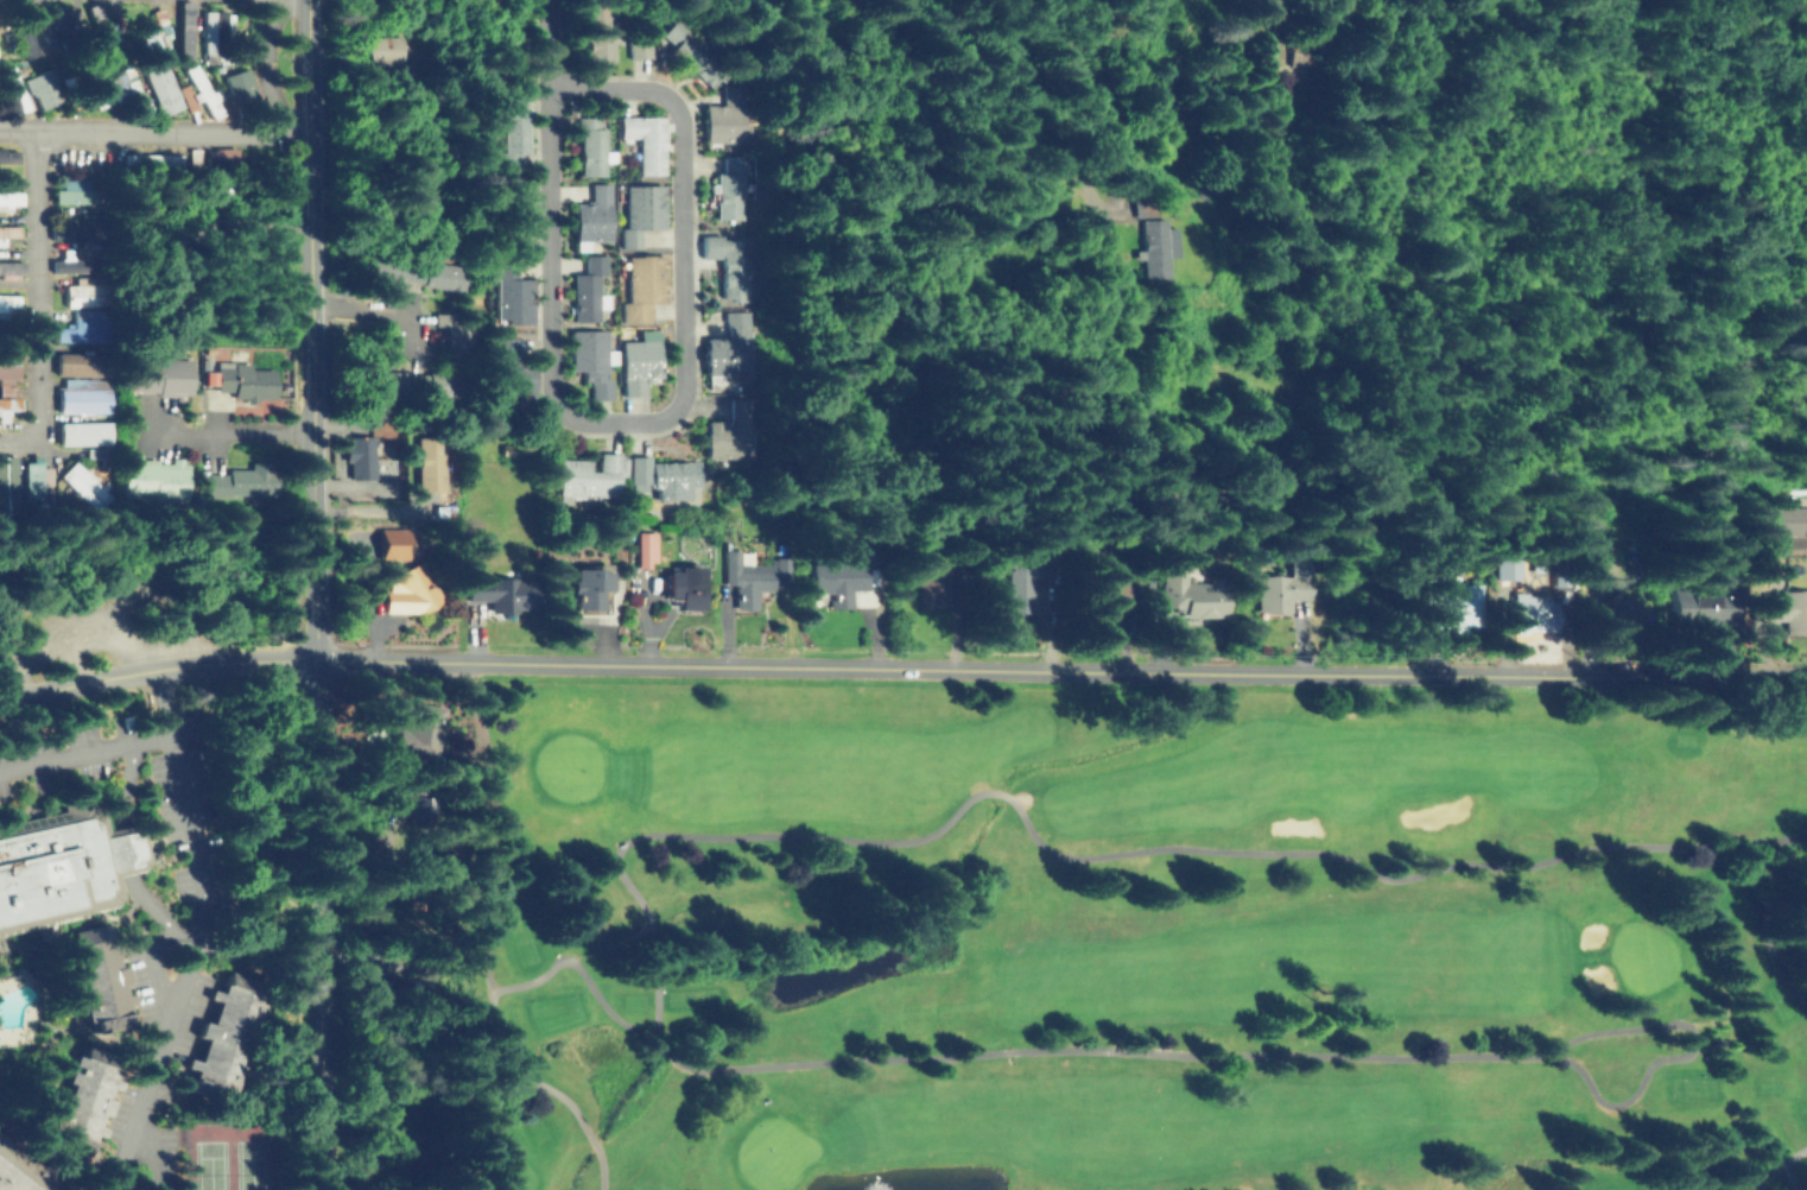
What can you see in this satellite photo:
building: (103, 27)
building: (214, 27)
building: (34, 32)
building: (146, 33)
building: (592, 34)
road: (549, 44)
building: (379, 46)
building: (636, 46)
building: (1286, 48)
building: (1317, 52)
building: (689, 53)
road: (265, 64)
building: (121, 86)
building: (39, 87)
building: (158, 87)
building: (240, 87)
building: (205, 94)
building: (185, 95)
building: (90, 99)
building: (725, 113)
road: (152, 128)
building: (512, 129)
road: (1079, 133)
building: (645, 140)
building: (588, 143)
building: (6, 153)
building: (226, 159)
building: (728, 183)
building: (68, 188)
building: (8, 192)
building: (511, 208)
building: (641, 210)
building: (590, 215)
building: (78, 224)
building: (9, 227)
building: (1150, 242)
building: (76, 262)
building: (727, 262)
building: (9, 266)
building: (411, 270)
building: (640, 285)
building: (587, 287)
building: (85, 292)
building: (508, 292)
road: (37, 296)
building: (7, 297)
building: (438, 316)
building: (82, 324)
road: (310, 329)
building: (459, 343)
building: (728, 347)
building: (590, 359)
building: (641, 362)
building: (8, 365)
building: (71, 365)
building: (507, 366)
building: (156, 373)
building: (241, 378)
building: (407, 381)
building: (6, 388)
building: (82, 401)
building: (12, 405)
road: (581, 414)
building: (728, 430)
road: (233, 432)
building: (82, 433)
building: (97, 451)
building: (364, 454)
building: (426, 467)
building: (588, 473)
building: (662, 473)
building: (151, 476)
building: (241, 477)
building: (30, 479)
building: (81, 481)
building: (4, 483)
building: (1202, 505)
building: (1788, 521)
building: (388, 544)
building: (642, 545)
building: (1508, 564)
building: (752, 571)
building: (931, 572)
building: (835, 580)
building: (1017, 582)
building: (585, 584)
building: (679, 584)
building: (411, 587)
building: (492, 587)
building: (1187, 589)
building: (1281, 589)
building: (1109, 591)
building: (1454, 603)
building: (1700, 608)
building: (1786, 608)
building: (1533, 612)
building: (1618, 614)
road: (1058, 664)
road: (153, 669)
building: (411, 726)
road: (83, 751)
building: (389, 797)
building: (416, 799)
building: (51, 863)
road: (315, 924)
road: (208, 931)
park: (1120, 942)
building: (97, 970)
building: (410, 980)
building: (228, 1034)
building: (75, 1101)
park: (232, 1154)
building: (398, 1158)
building: (17, 1173)

